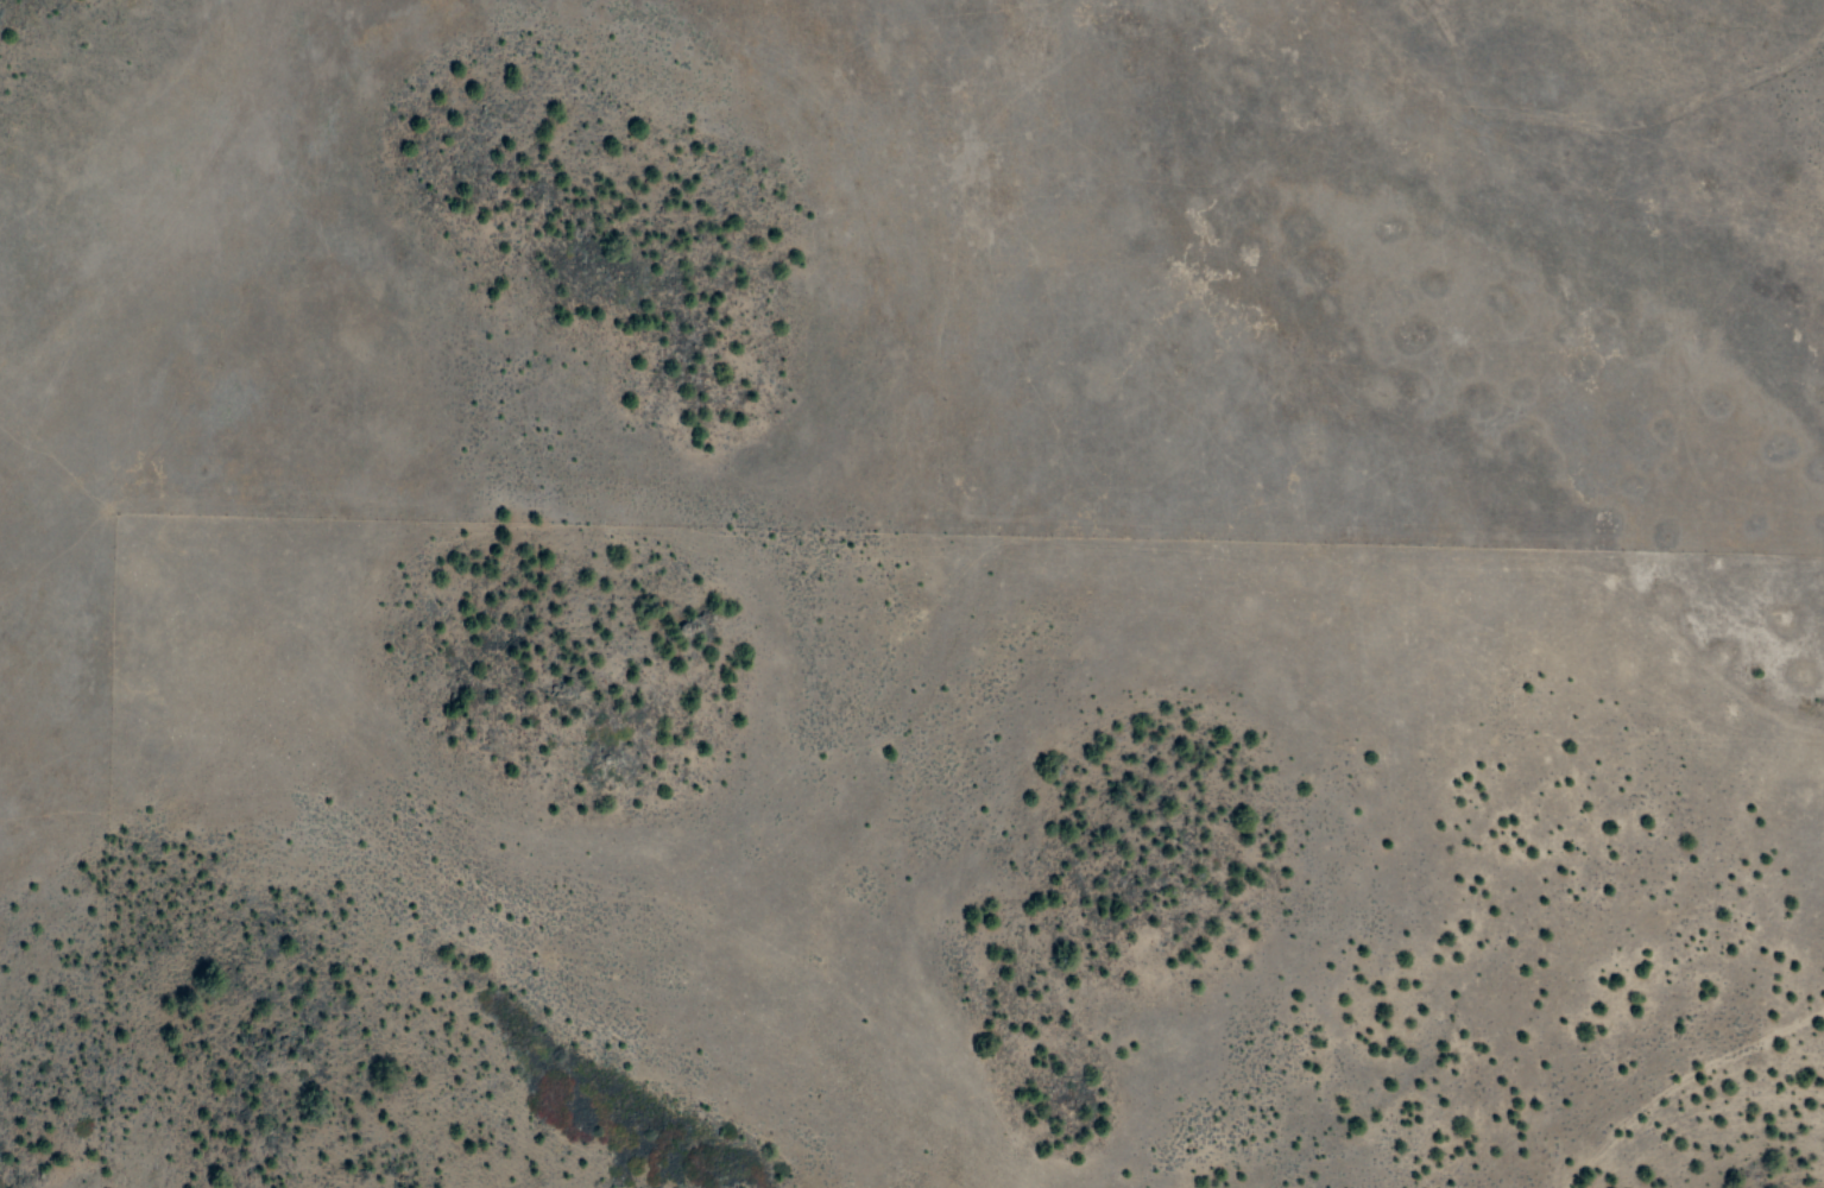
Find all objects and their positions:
road: (1679, 1076)

